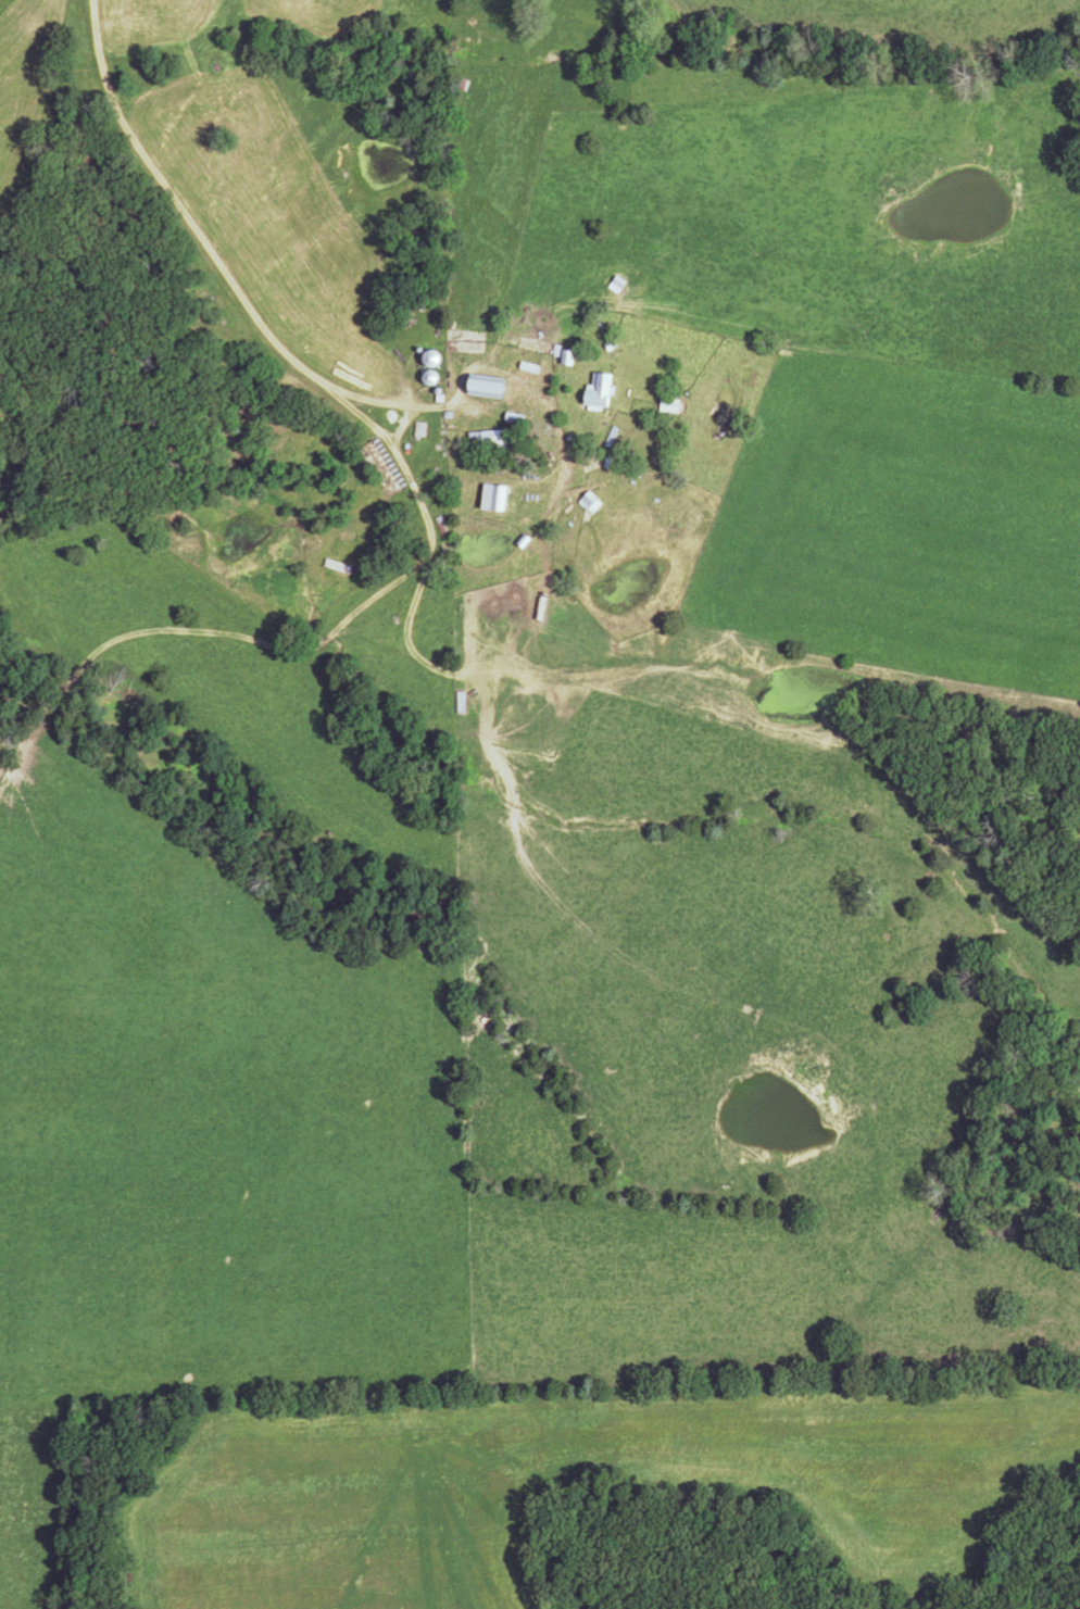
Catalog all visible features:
road: (178, 211)
building: (435, 356)
building: (491, 385)
building: (603, 390)
building: (673, 404)
road: (397, 425)
building: (492, 439)
building: (498, 495)
building: (339, 565)
building: (463, 701)

